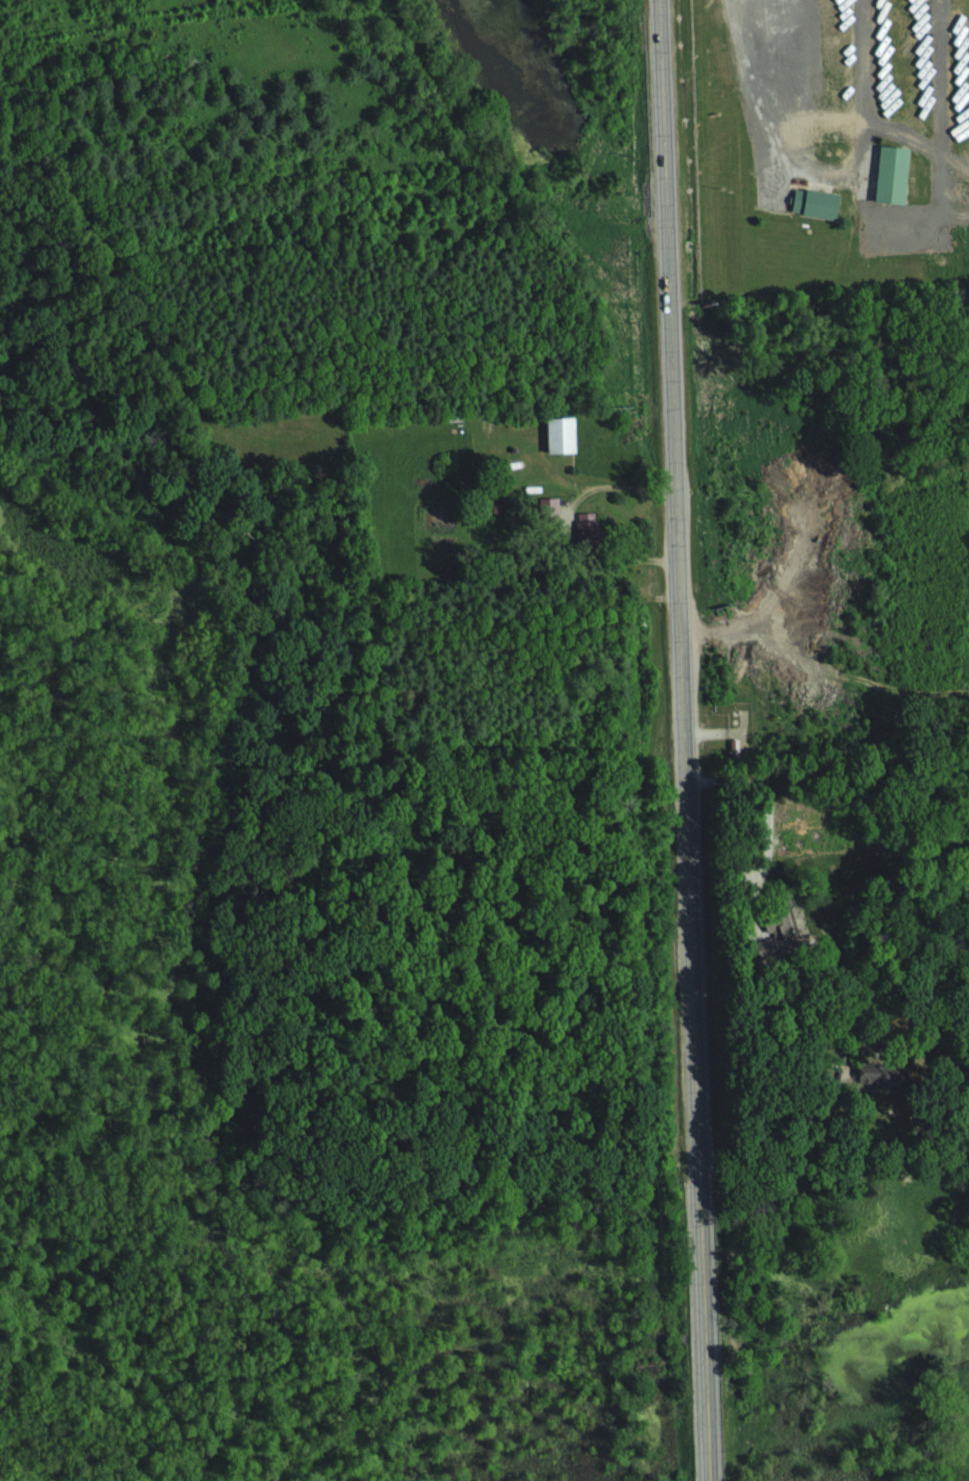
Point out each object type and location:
road: (799, 60)
road: (866, 61)
road: (940, 107)
road: (869, 124)
road: (763, 133)
building: (896, 173)
building: (819, 203)
road: (868, 221)
building: (564, 434)
building: (550, 507)
building: (586, 524)
road: (680, 740)
road: (769, 807)
building: (781, 936)
building: (882, 1075)
road: (783, 1151)

